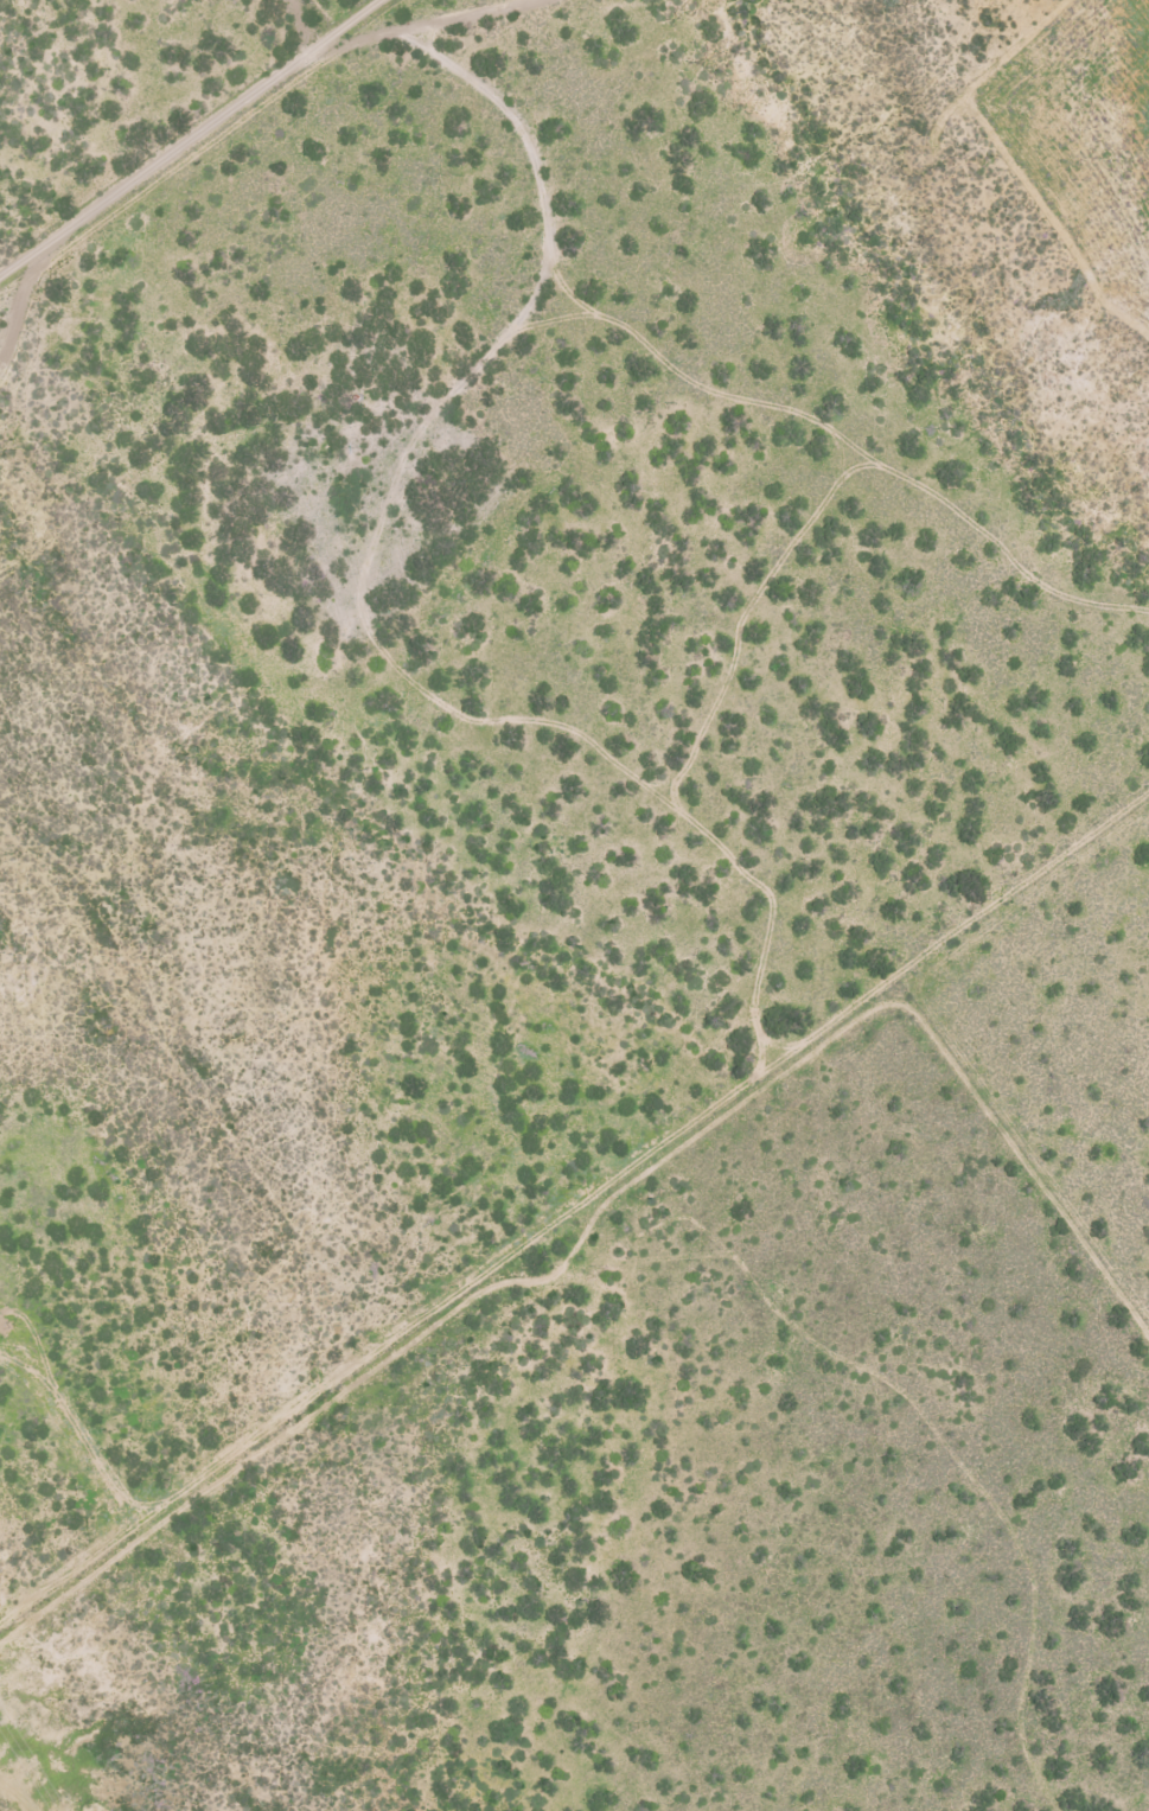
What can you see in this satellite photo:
road: (258, 101)

